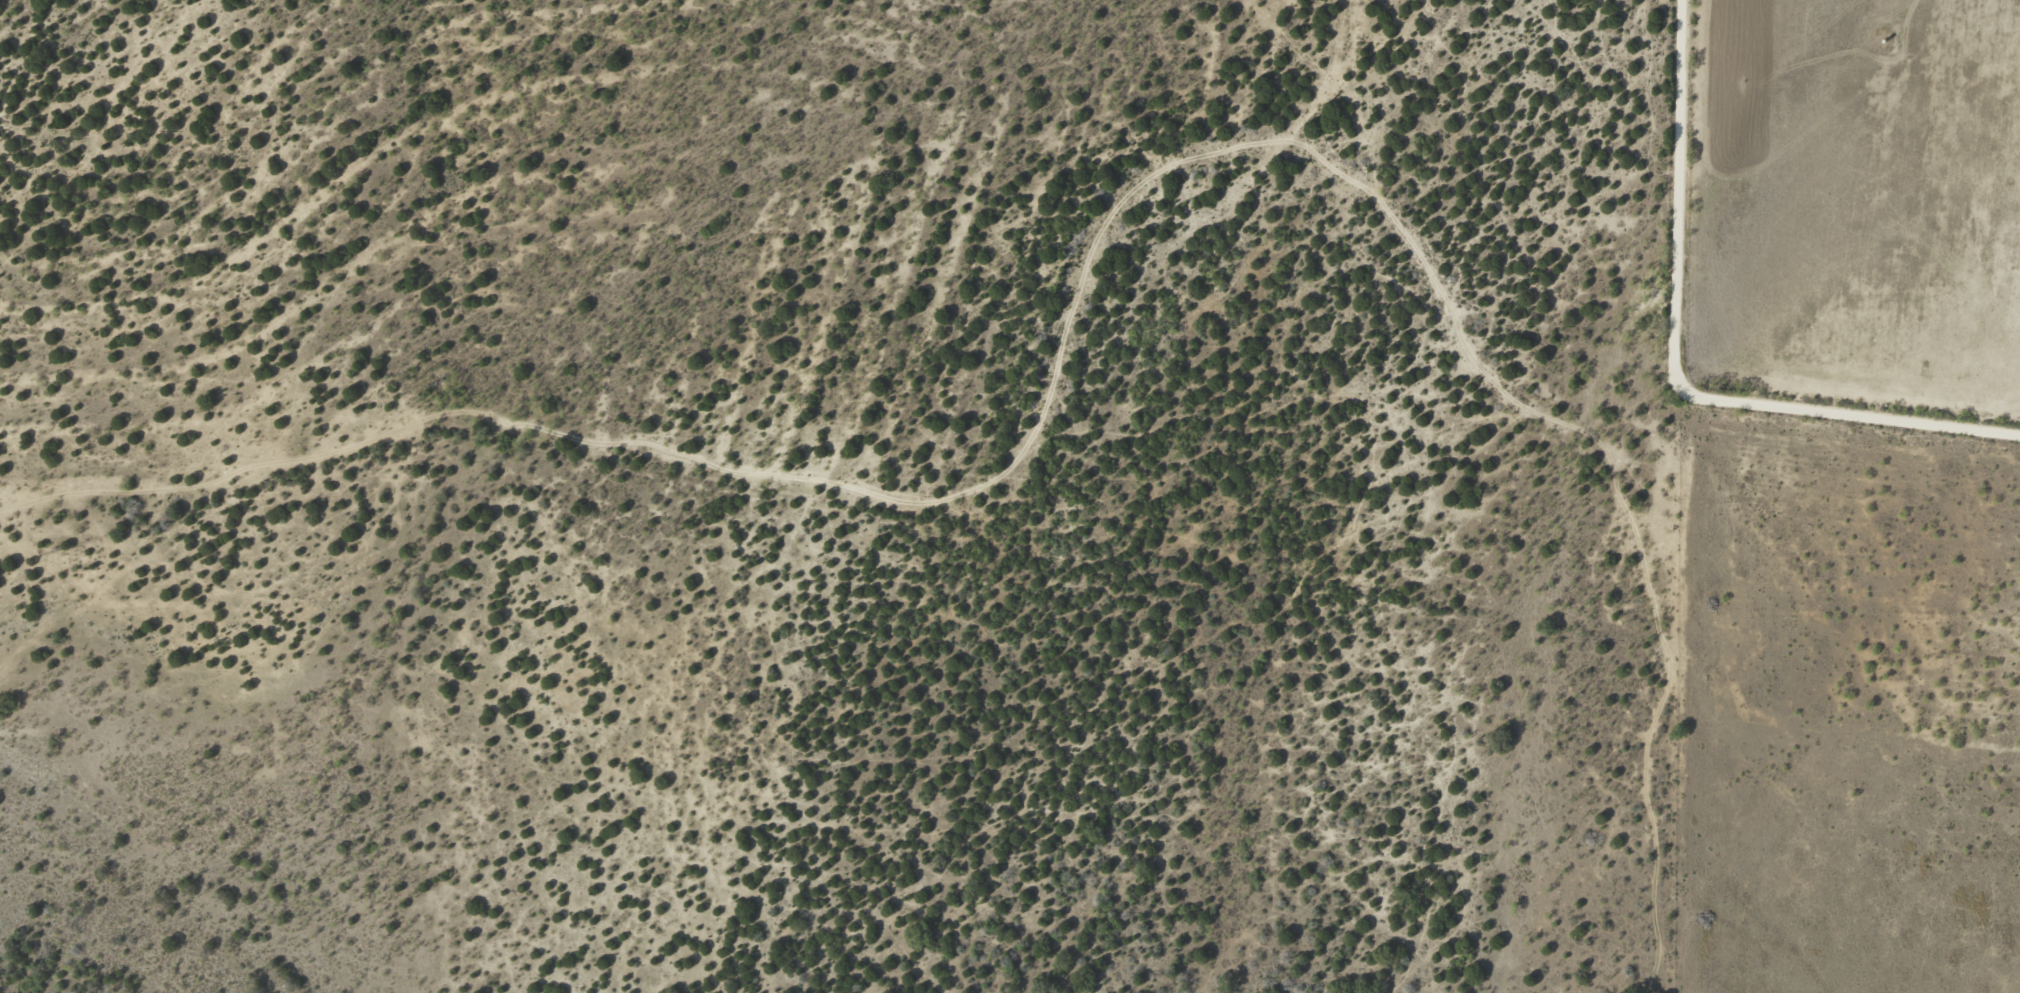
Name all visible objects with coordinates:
road: (1679, 363)

